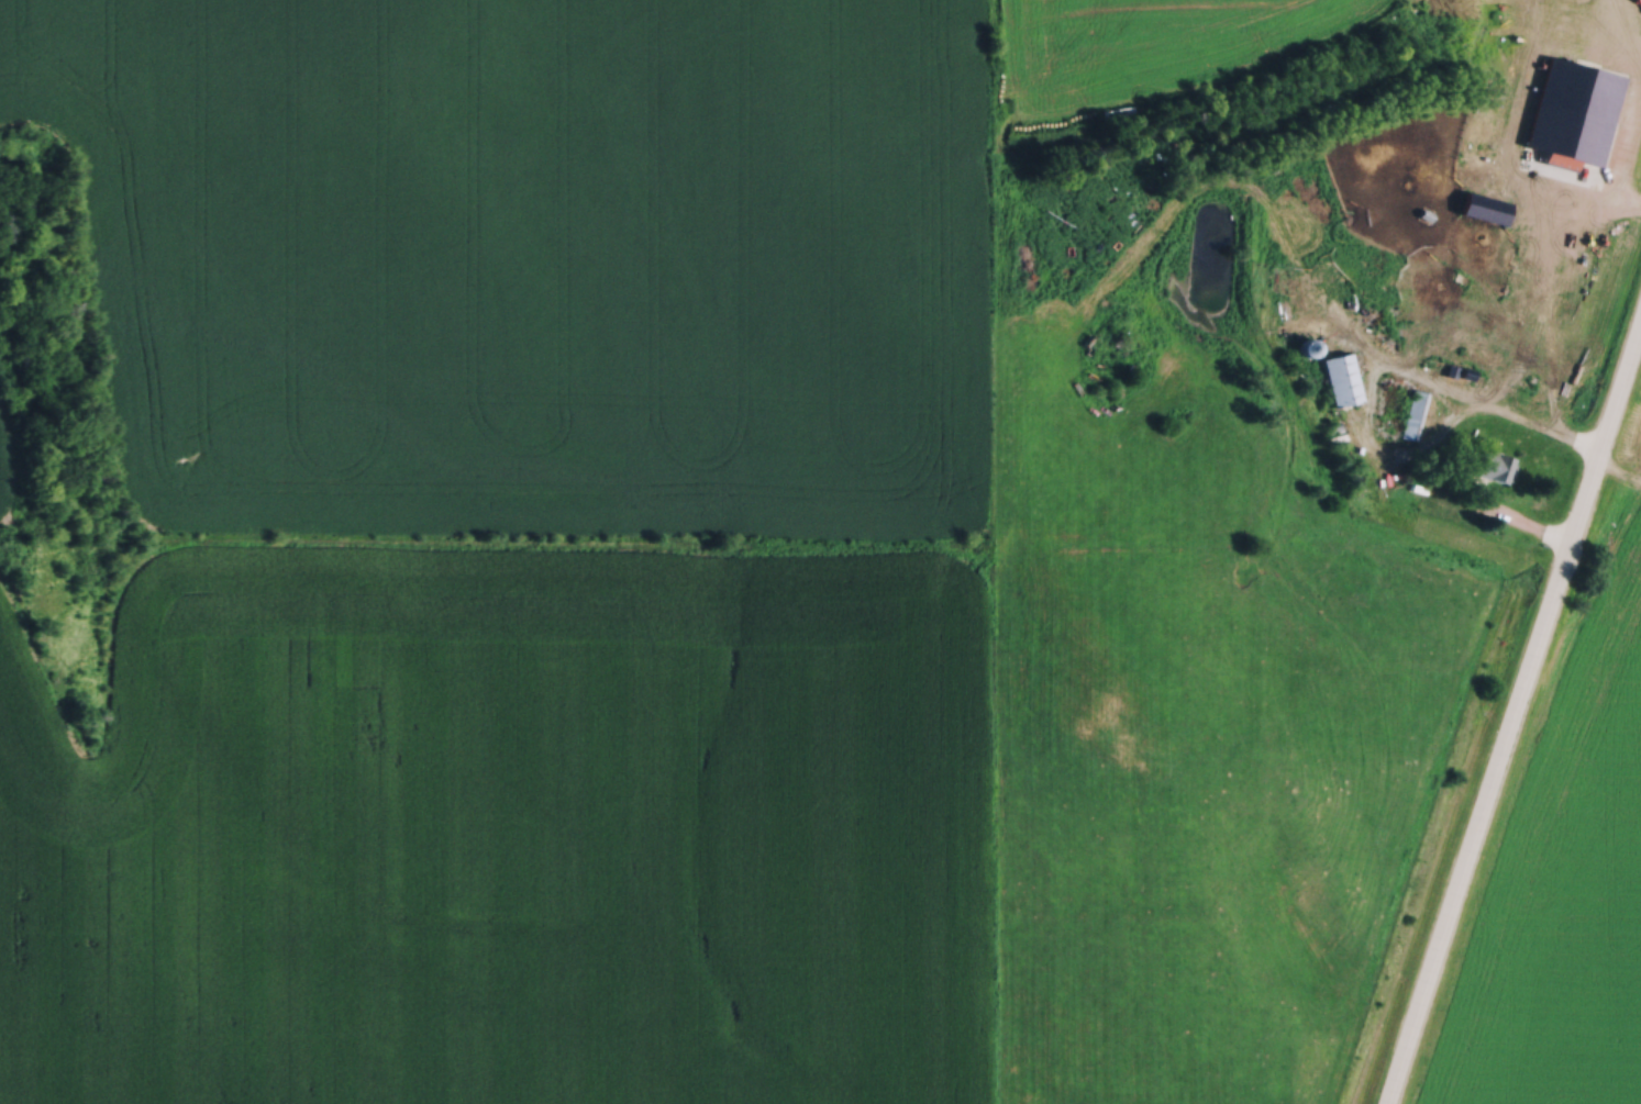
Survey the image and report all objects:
building: (1485, 187)
building: (1568, 202)
building: (1326, 275)
building: (1308, 344)
building: (1341, 375)
road: (1477, 403)
building: (1413, 411)
building: (1494, 462)
road: (1514, 715)

